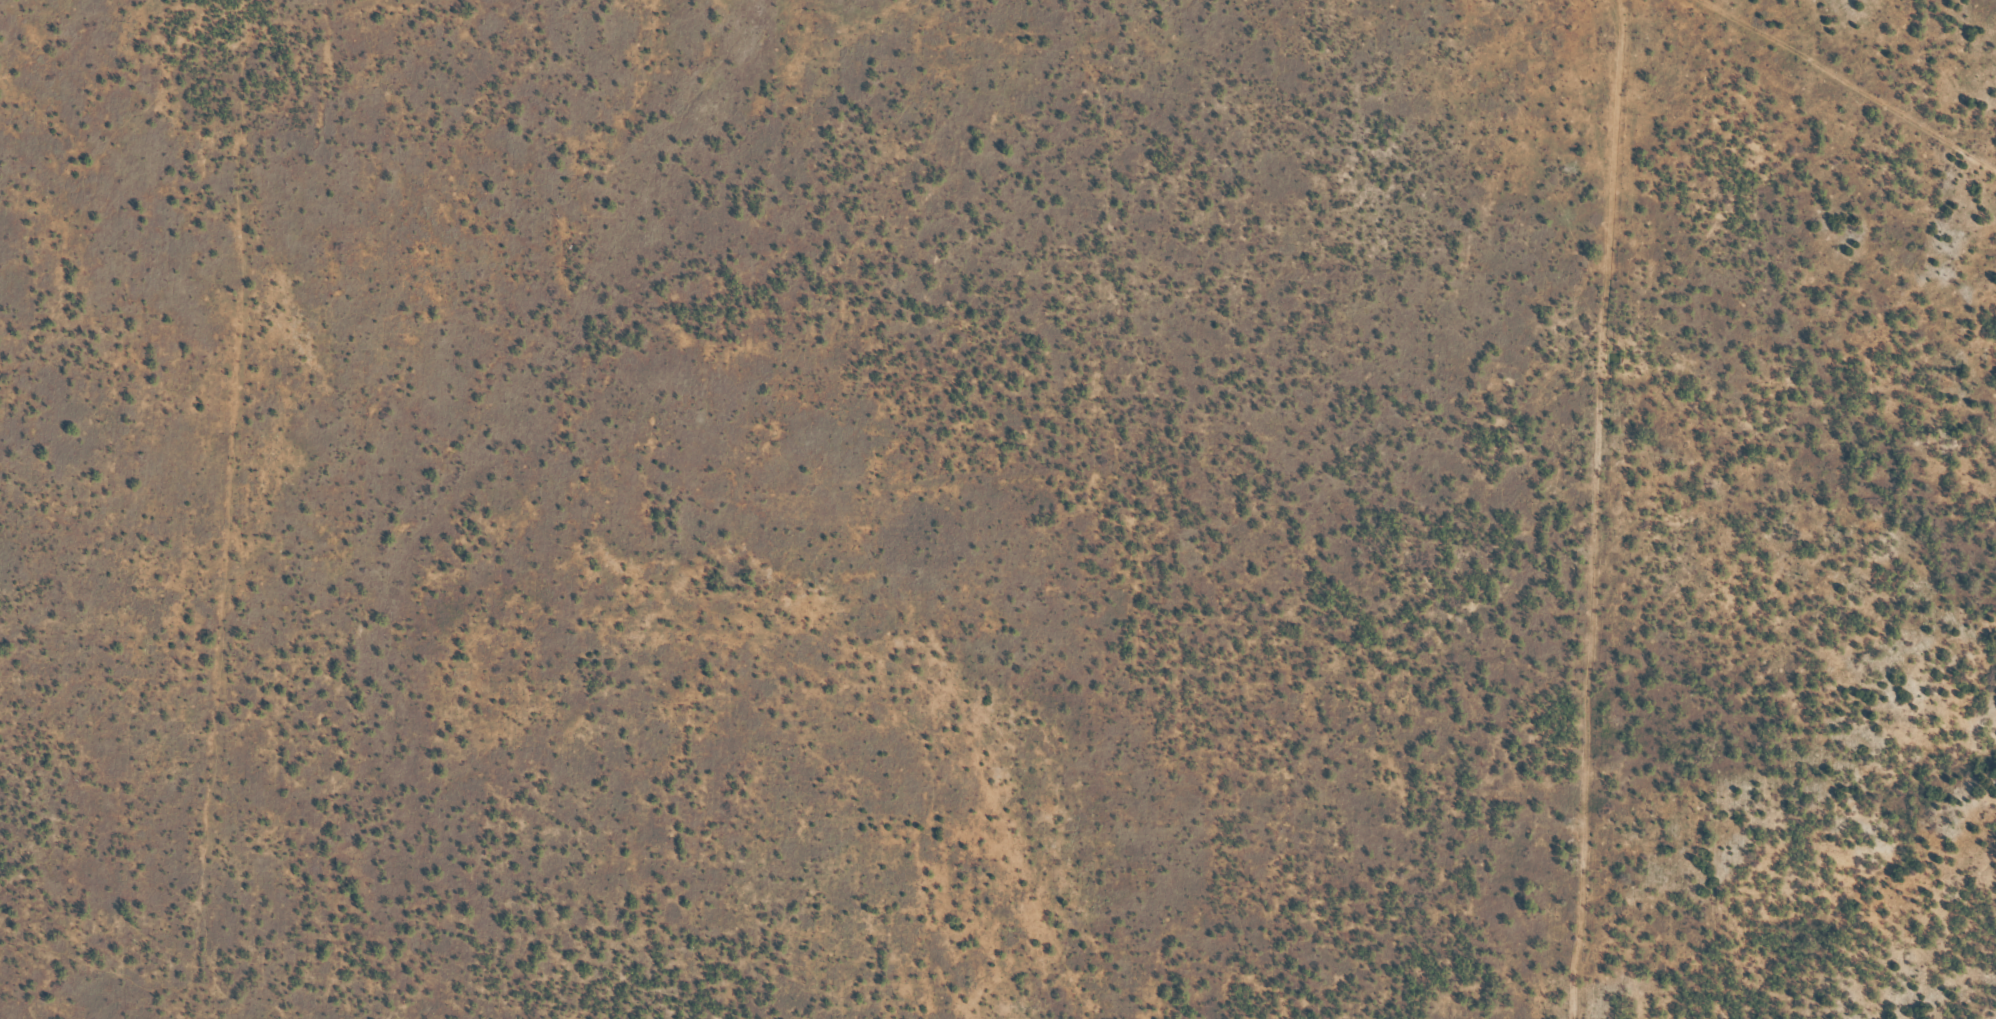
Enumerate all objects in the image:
road: (1587, 508)

